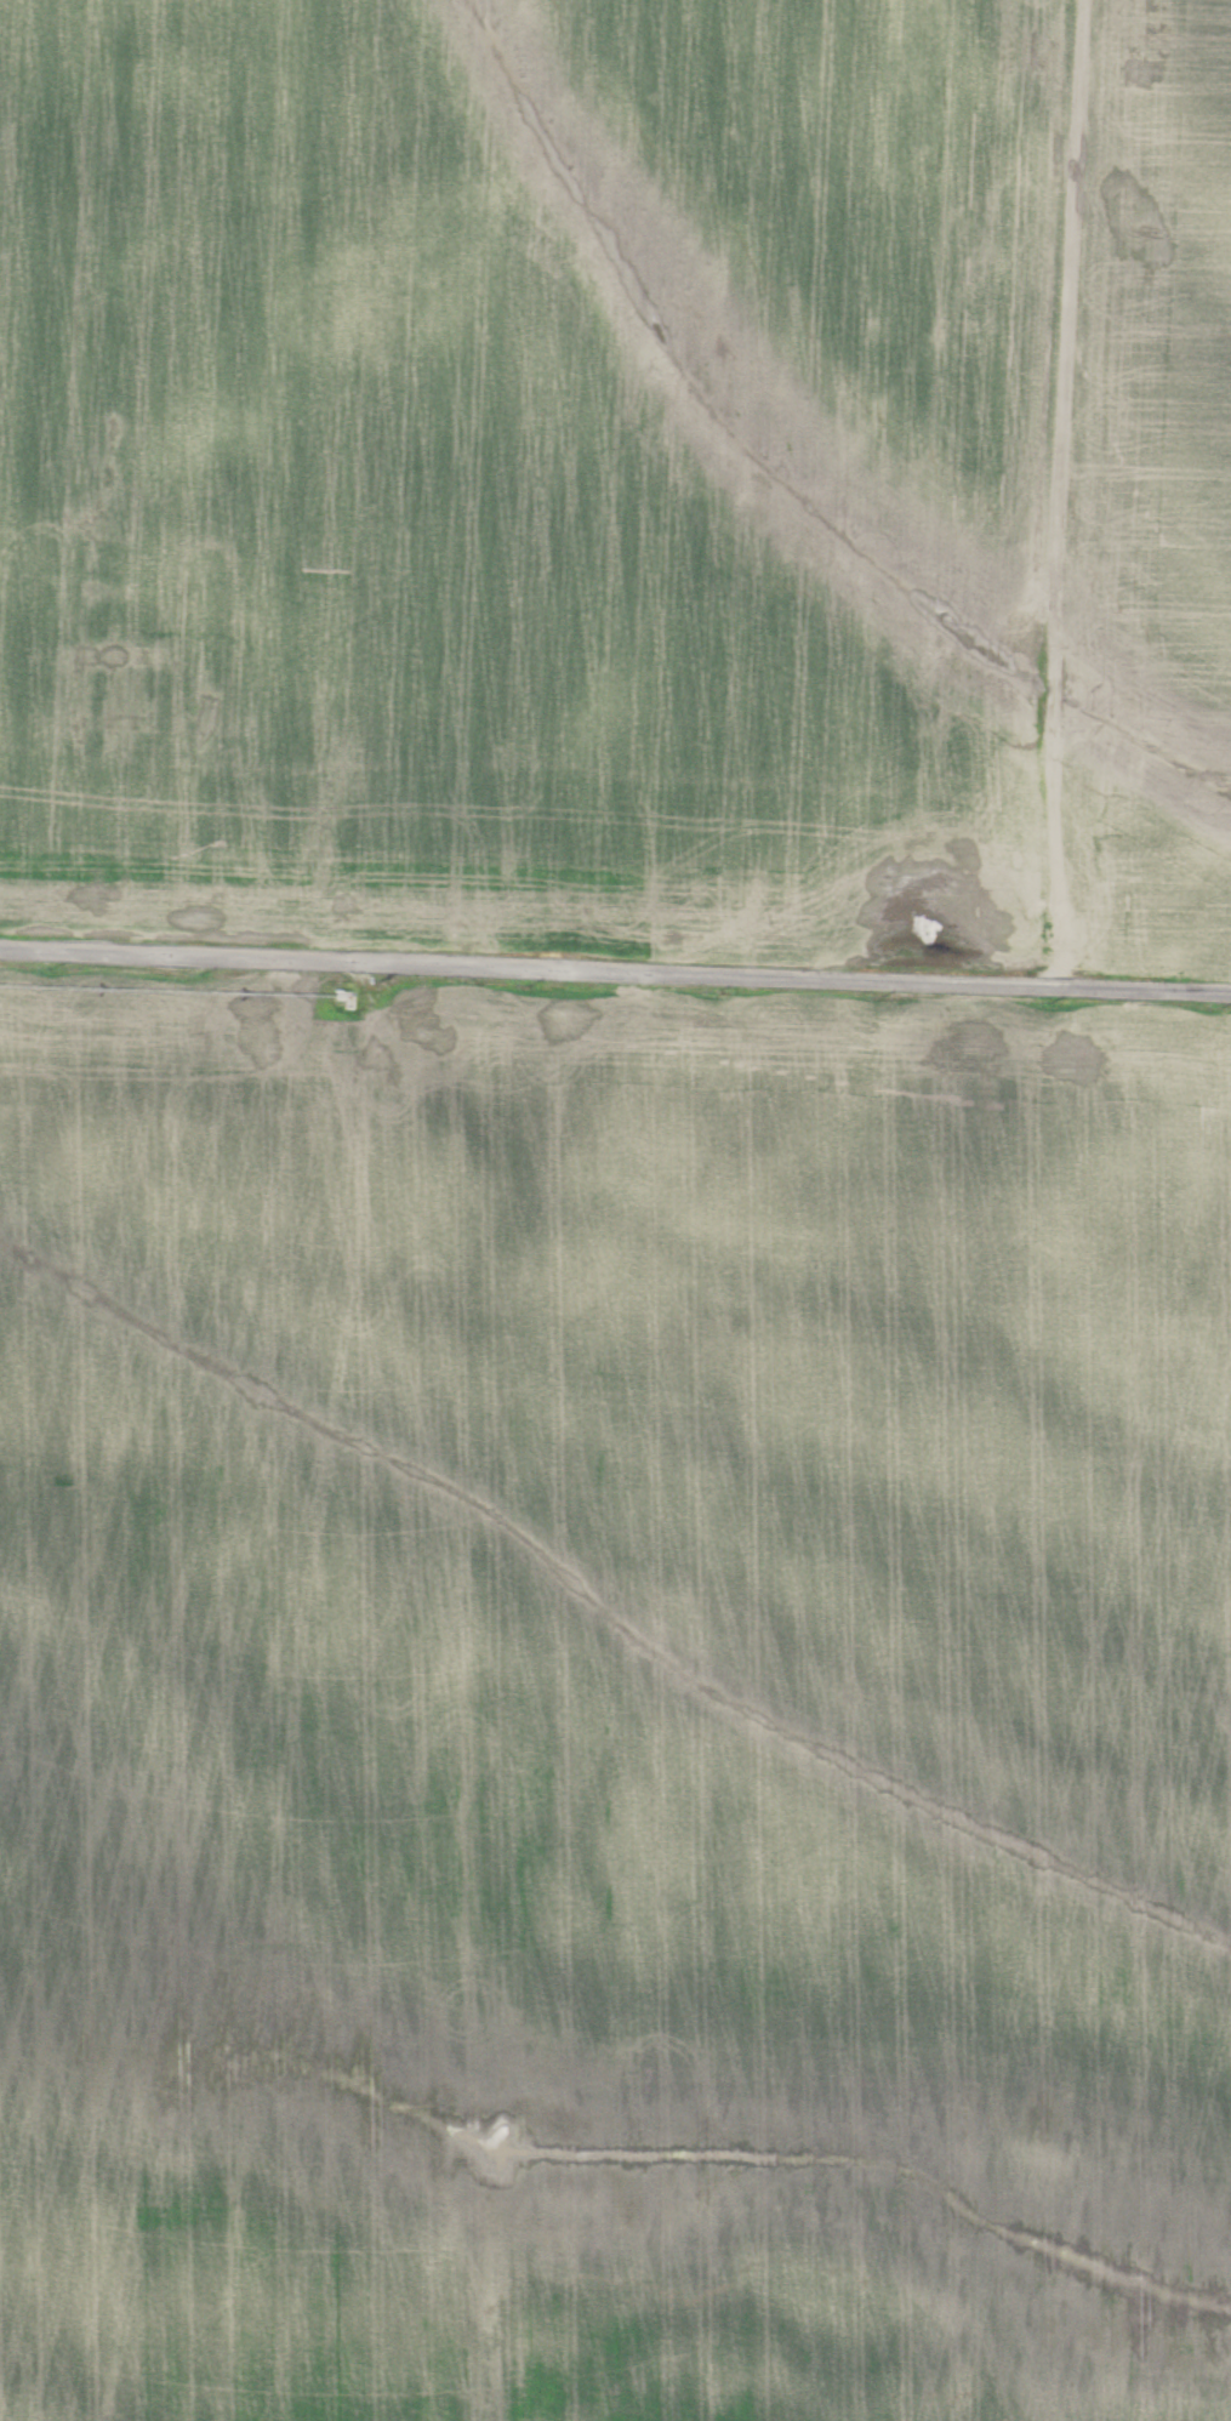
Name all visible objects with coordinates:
crop: (530, 469)
crop: (1153, 497)
road: (615, 961)
crop: (612, 1702)

